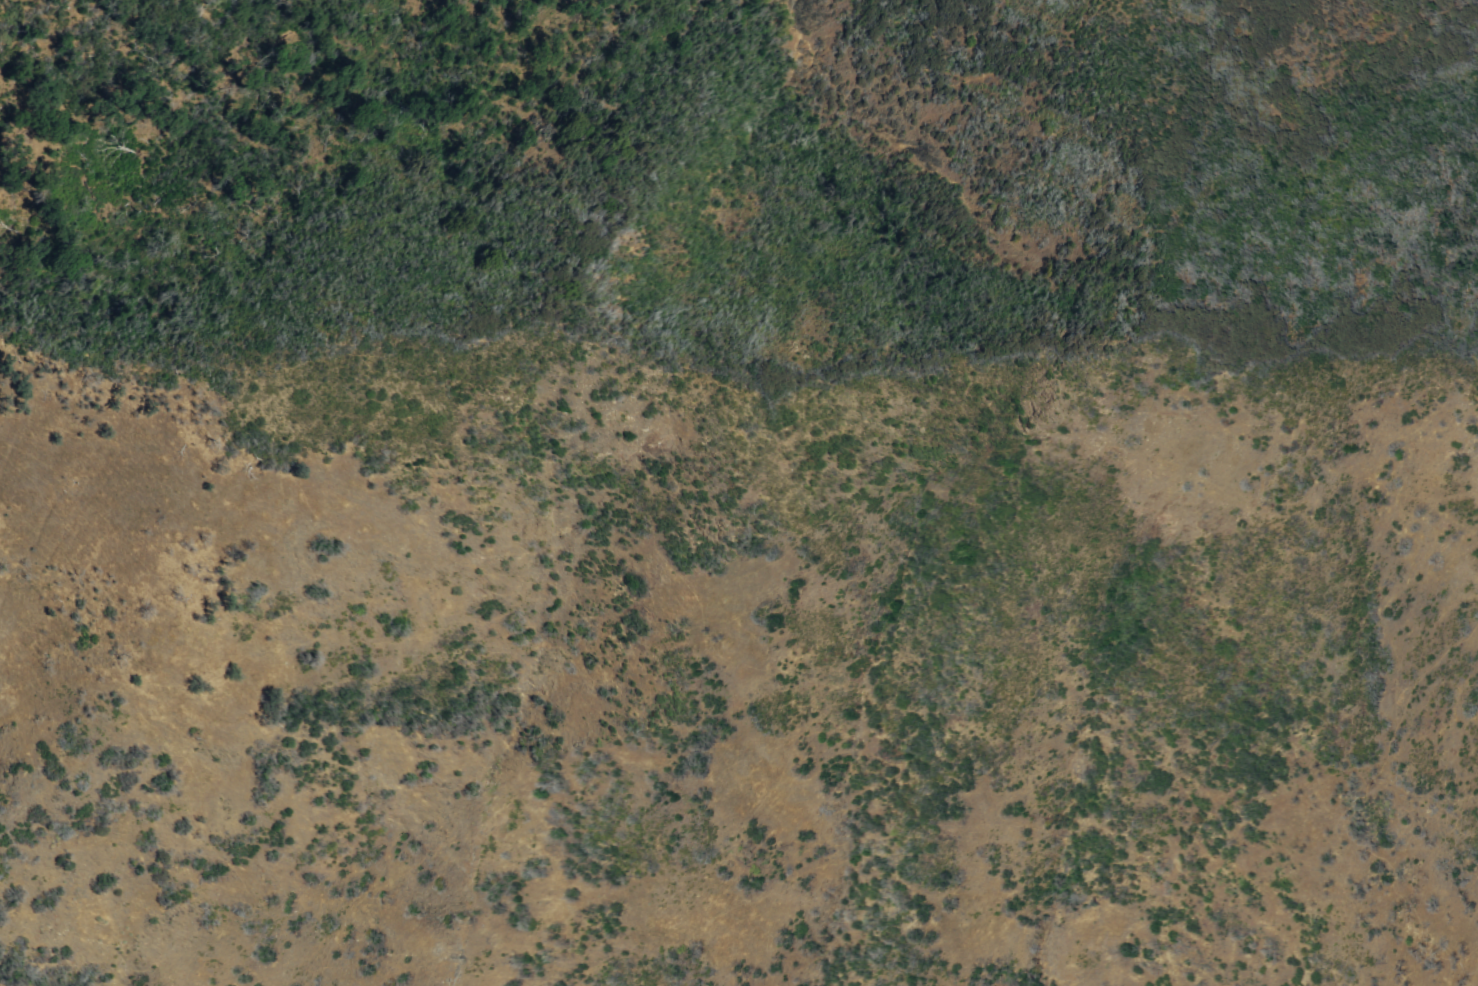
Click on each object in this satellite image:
road: (1326, 699)

